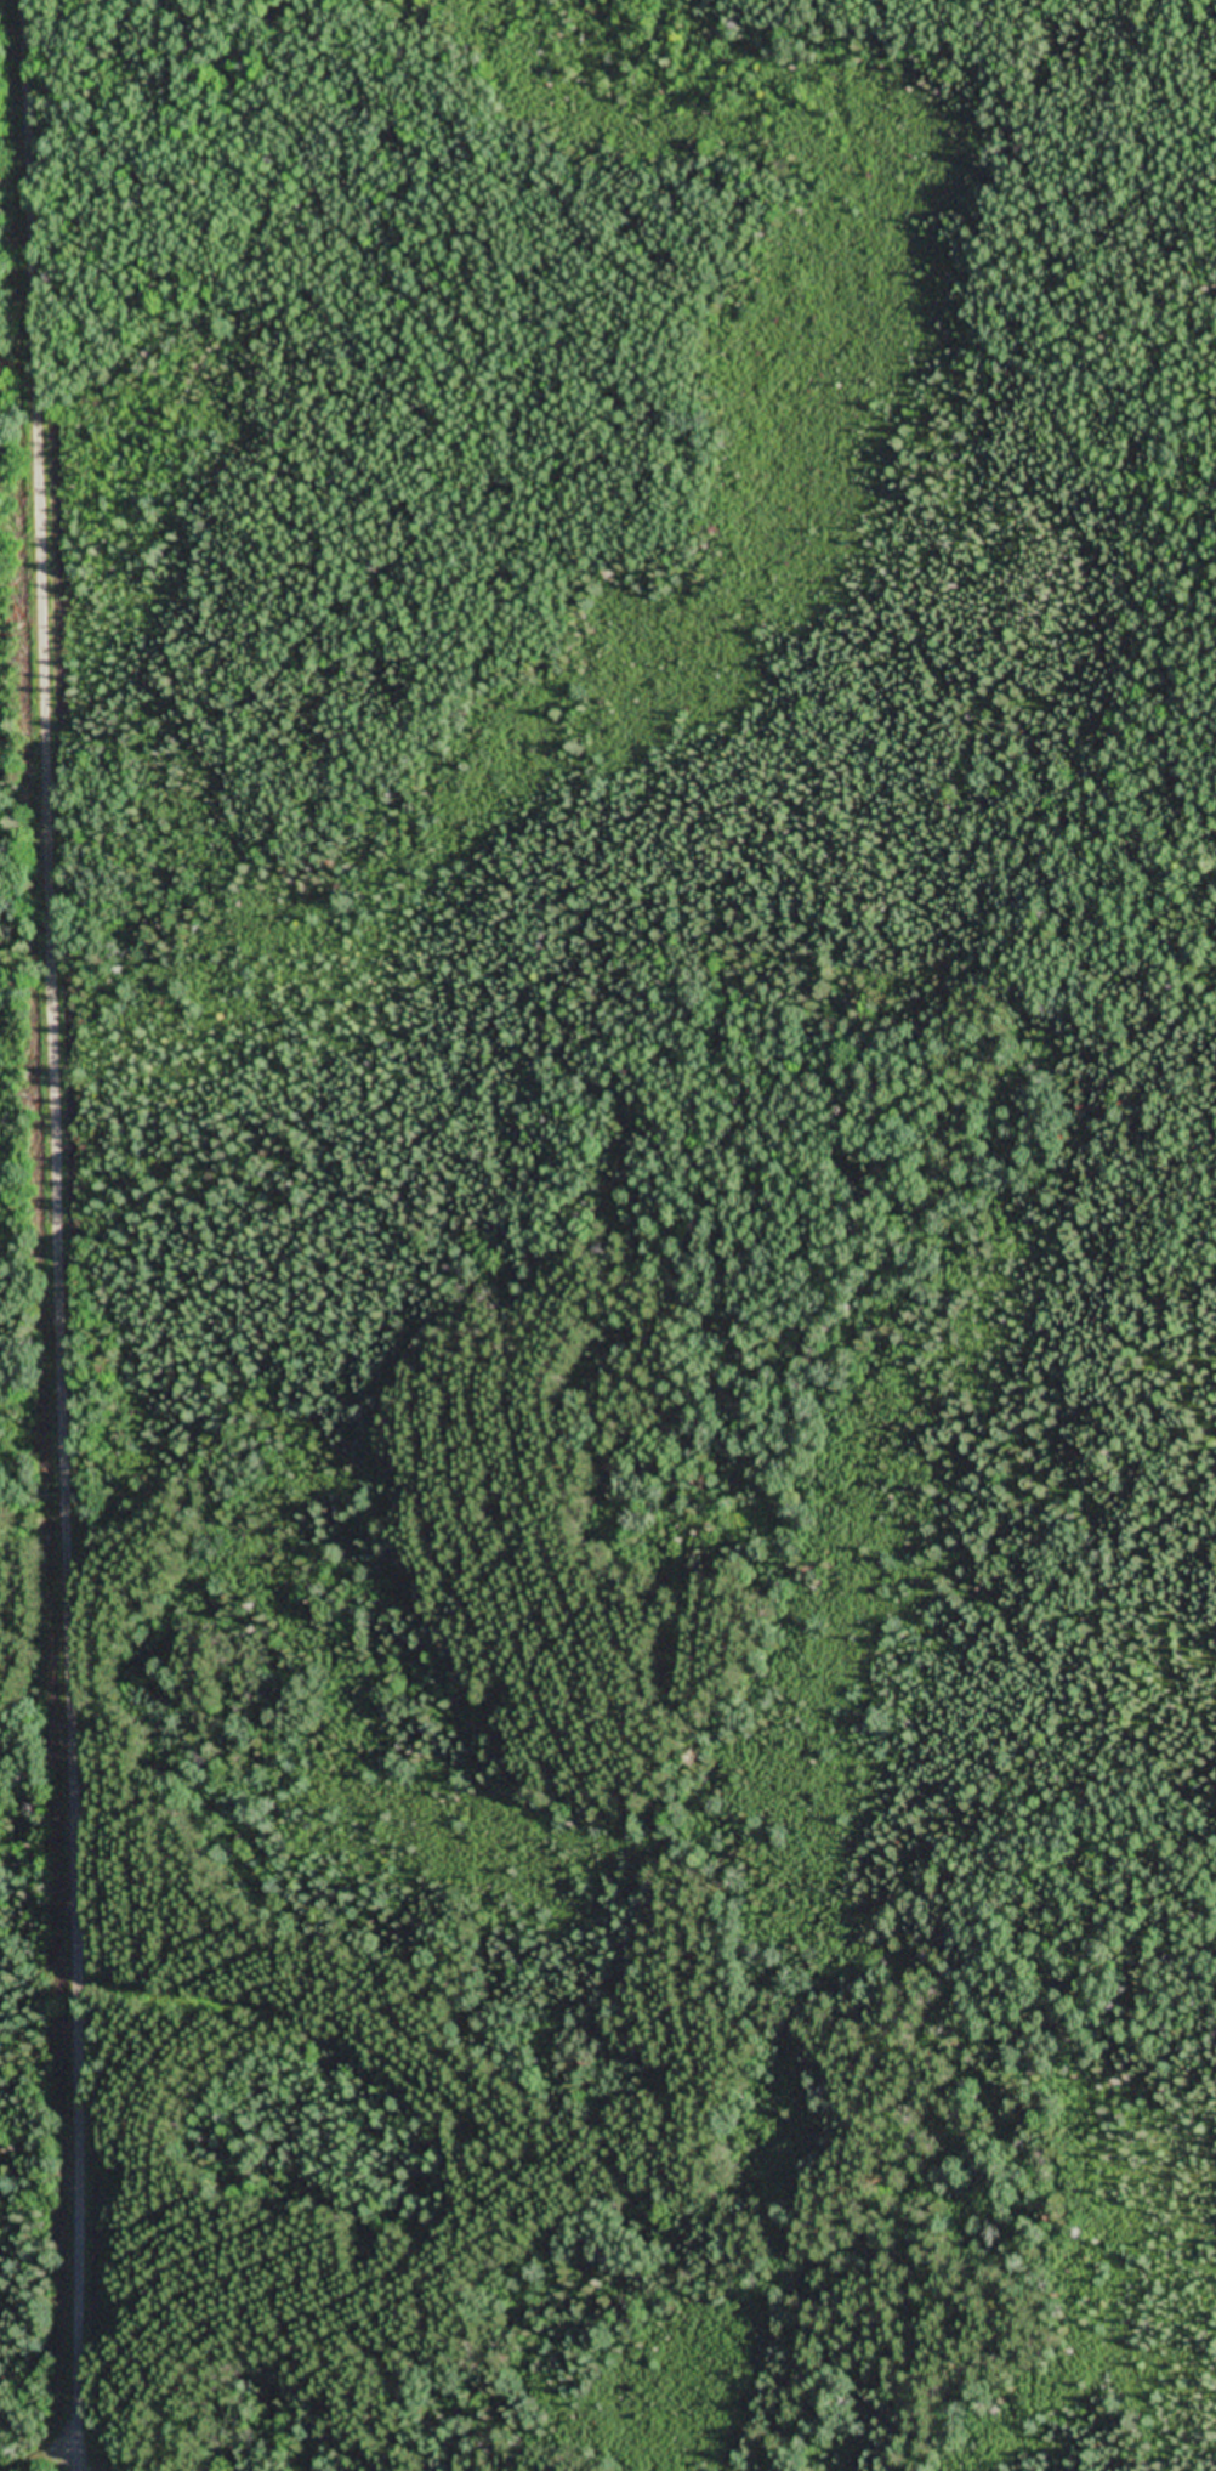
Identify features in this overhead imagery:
road: (57, 1235)
road: (30, 2447)

